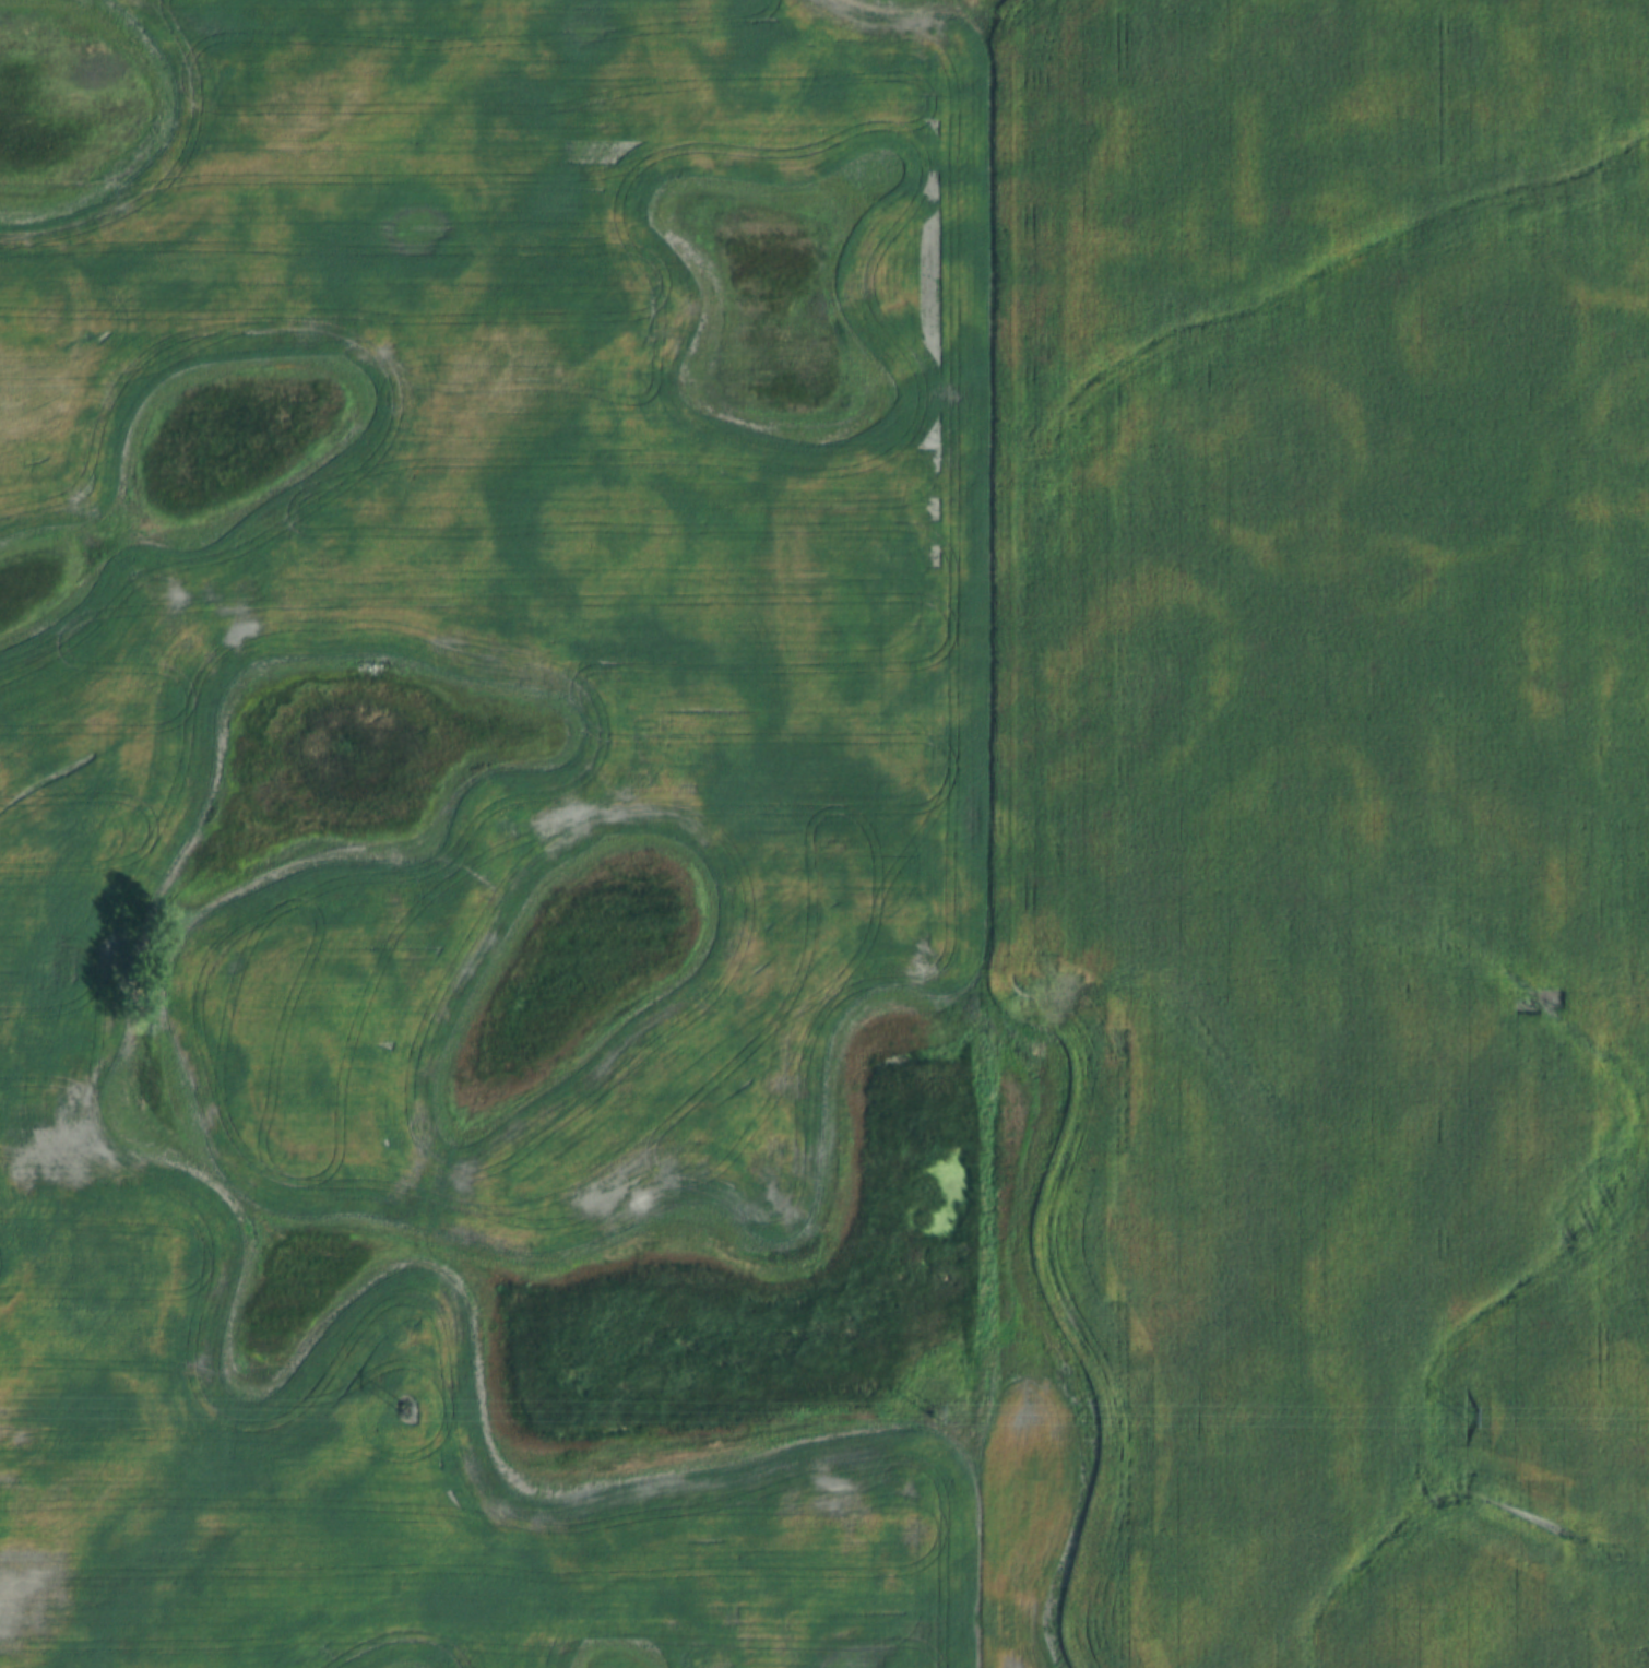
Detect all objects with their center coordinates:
power tower: (403, 1411)
power tower: (934, 1415)
power tower: (1467, 1416)

